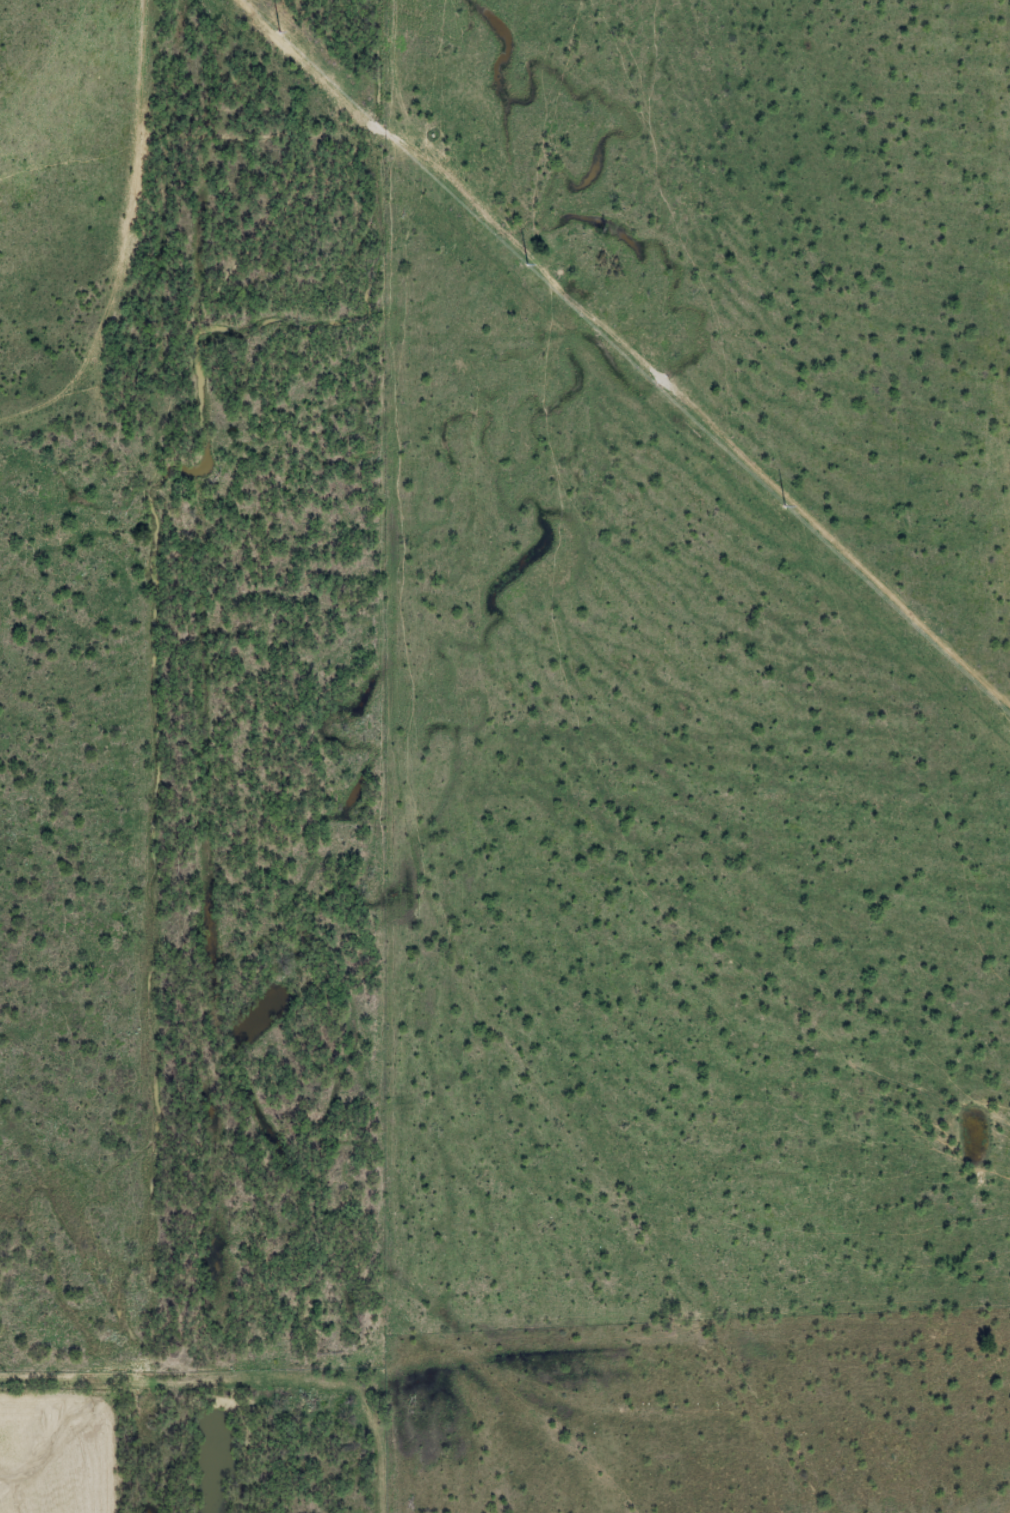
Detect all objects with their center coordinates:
road: (201, 1344)

